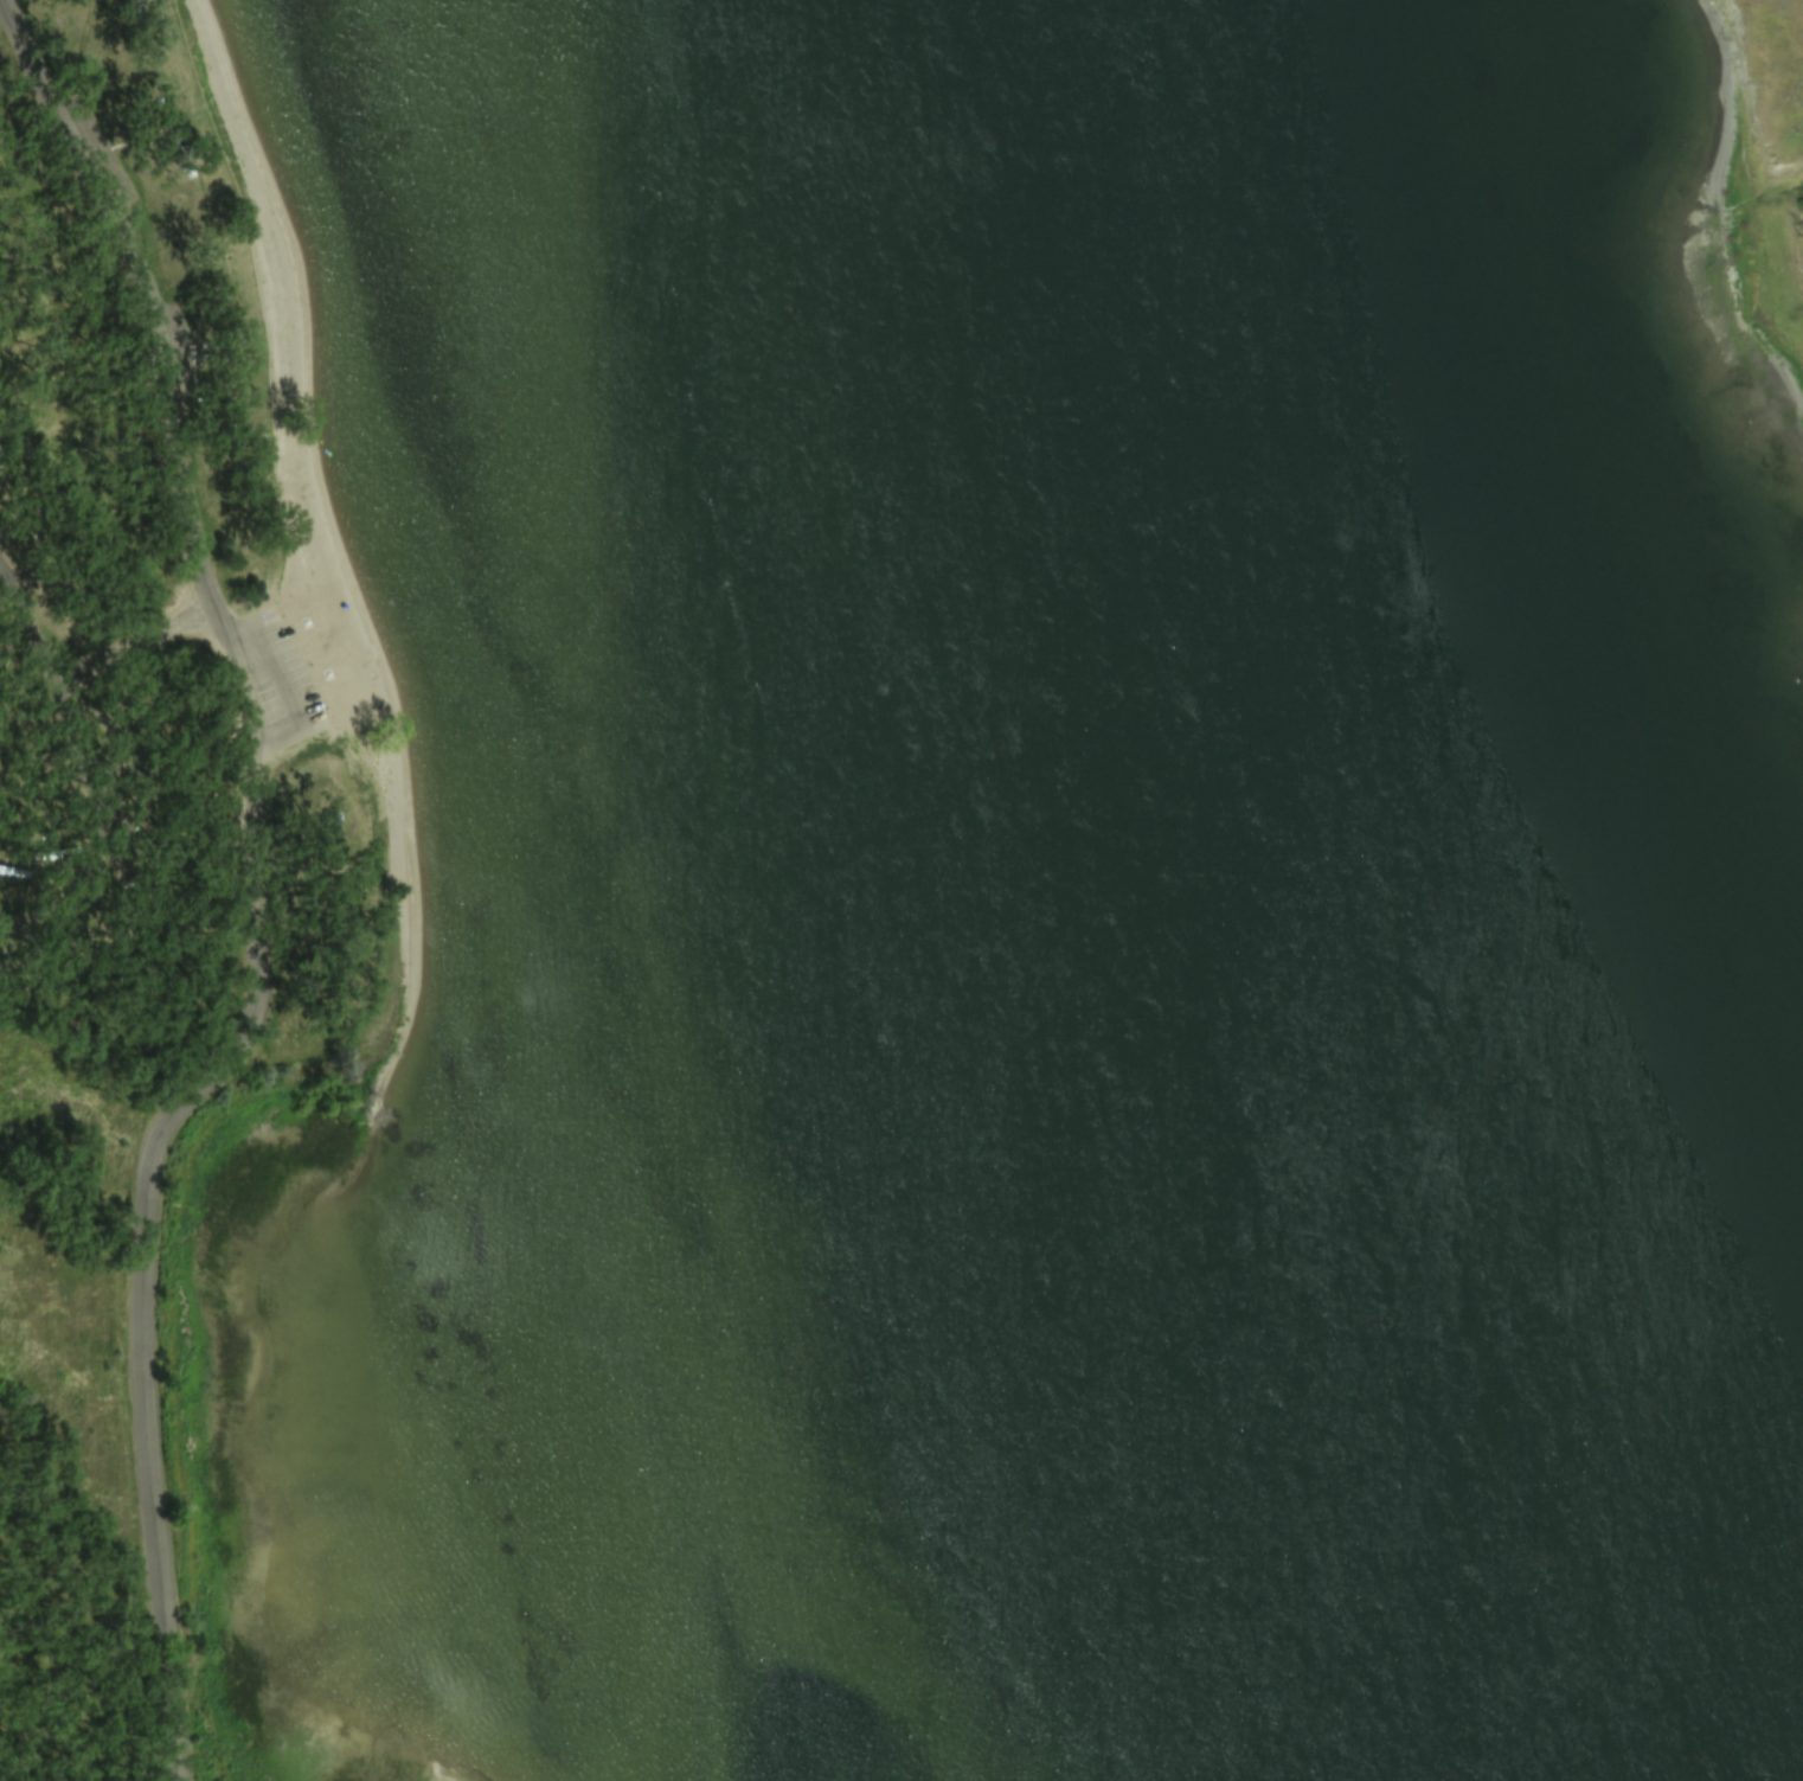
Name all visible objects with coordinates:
road: (133, 642)
road: (71, 768)
road: (255, 885)
river: (1489, 885)

